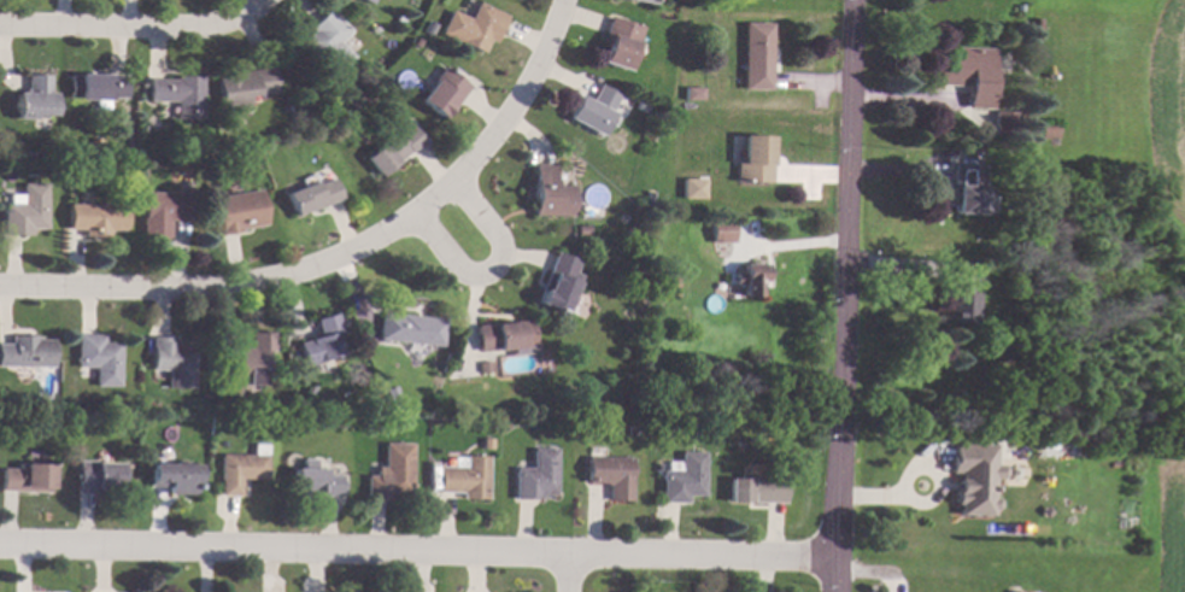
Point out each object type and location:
building: (368, 1)
building: (641, 1)
building: (1036, 25)
building: (471, 27)
road: (139, 33)
building: (327, 41)
building: (413, 42)
building: (618, 42)
building: (755, 55)
building: (1015, 66)
building: (968, 74)
building: (96, 87)
building: (241, 87)
building: (441, 92)
road: (515, 92)
building: (691, 93)
building: (177, 95)
building: (34, 99)
building: (294, 106)
crop: (1168, 106)
building: (593, 110)
building: (669, 118)
building: (1003, 123)
building: (1048, 130)
building: (391, 150)
building: (752, 159)
building: (1017, 160)
building: (212, 175)
building: (691, 189)
building: (967, 189)
building: (550, 194)
building: (311, 197)
building: (647, 199)
building: (25, 210)
building: (163, 211)
building: (237, 211)
building: (95, 218)
building: (581, 229)
building: (721, 230)
road: (486, 266)
building: (747, 279)
building: (559, 283)
road: (241, 286)
building: (667, 287)
building: (958, 294)
road: (841, 295)
building: (410, 329)
building: (504, 335)
building: (321, 341)
building: (27, 352)
building: (98, 358)
building: (250, 361)
building: (172, 362)
building: (483, 367)
building: (309, 391)
building: (391, 393)
building: (1044, 440)
building: (487, 444)
building: (242, 469)
building: (393, 473)
building: (536, 475)
building: (611, 475)
building: (95, 476)
building: (175, 476)
building: (973, 476)
building: (24, 477)
building: (465, 477)
building: (682, 477)
building: (313, 480)
building: (756, 490)
crop: (1169, 524)
road: (417, 550)
road: (564, 572)
building: (1004, 591)

